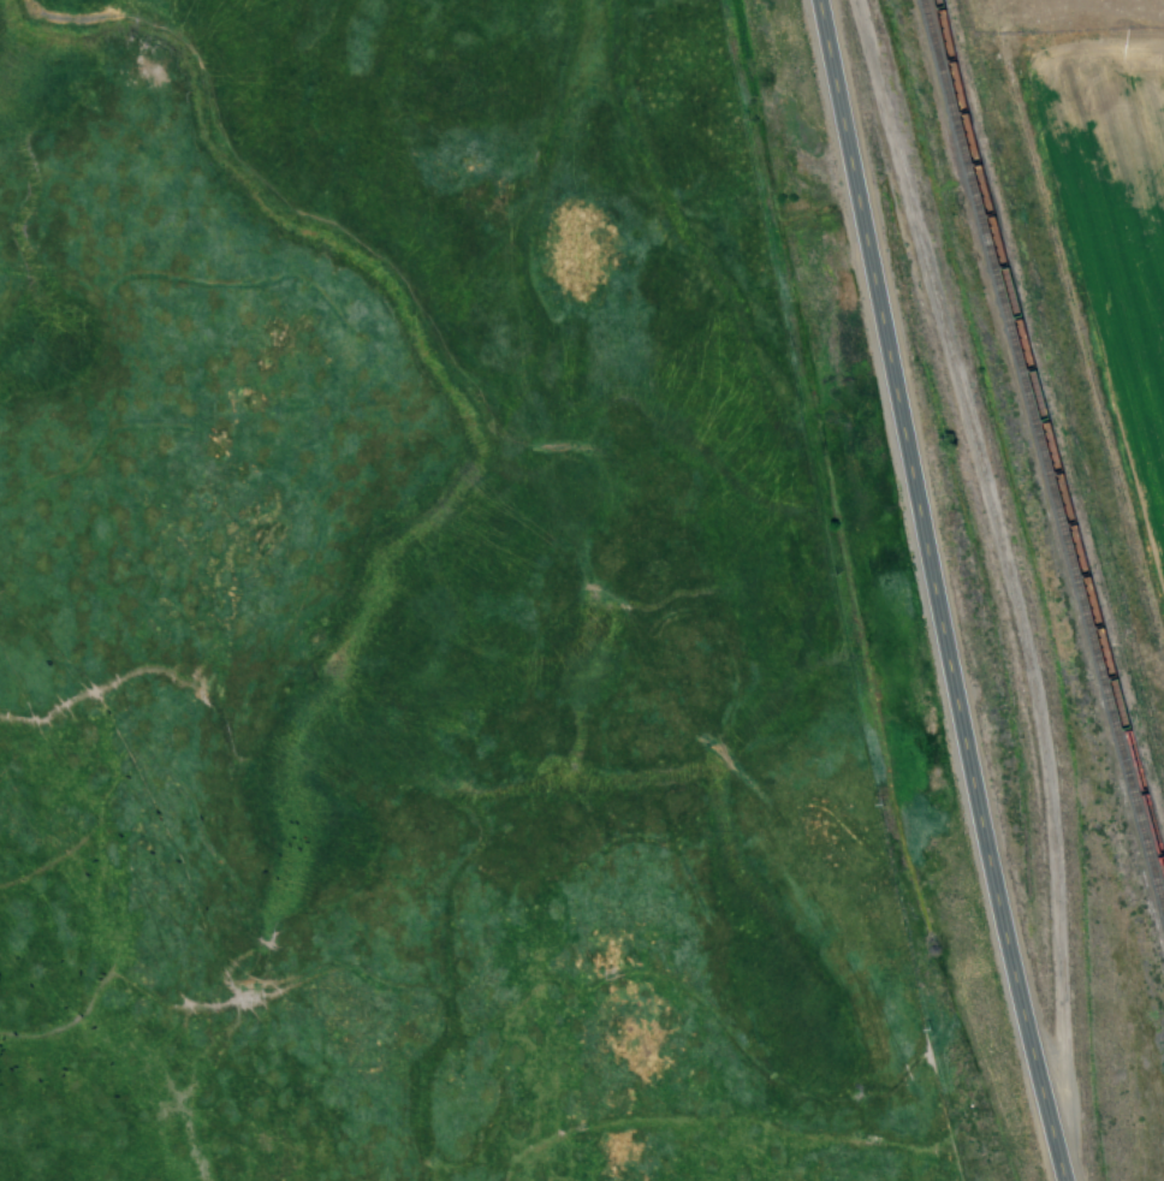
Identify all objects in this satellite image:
railway: (1051, 428)
railway: (1044, 461)
road: (930, 592)

